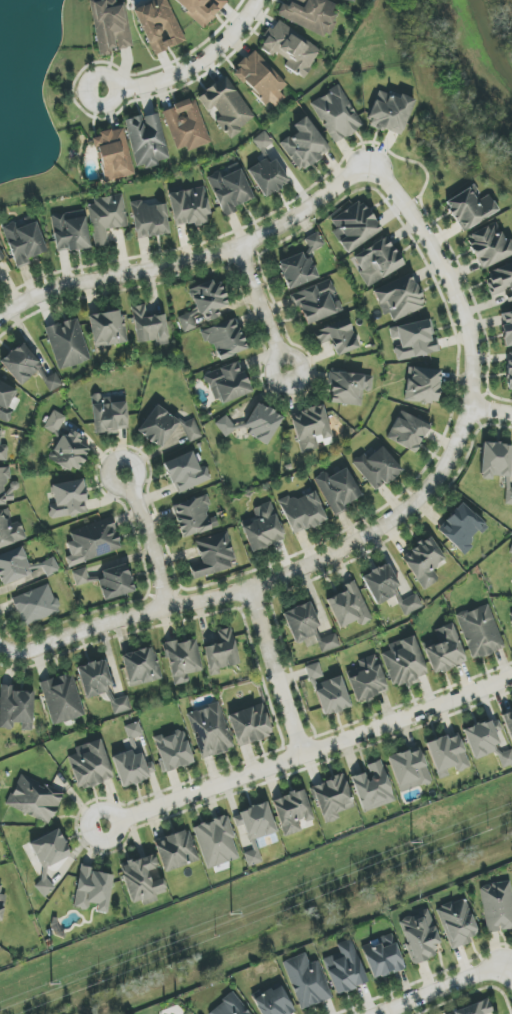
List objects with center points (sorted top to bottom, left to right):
building: (351, 0)
building: (201, 9)
building: (310, 14)
building: (159, 25)
building: (111, 27)
building: (290, 48)
road: (198, 61)
building: (261, 80)
road: (114, 99)
building: (226, 107)
building: (391, 112)
building: (336, 114)
building: (186, 125)
building: (147, 140)
building: (262, 141)
building: (304, 144)
building: (113, 155)
building: (268, 176)
building: (229, 189)
building: (189, 207)
building: (470, 208)
building: (106, 217)
building: (149, 219)
building: (355, 225)
building: (70, 231)
building: (24, 242)
building: (490, 246)
building: (1, 257)
road: (192, 258)
building: (377, 261)
building: (296, 270)
building: (501, 281)
building: (399, 298)
building: (209, 300)
building: (317, 302)
road: (263, 309)
building: (190, 320)
building: (150, 327)
building: (507, 327)
building: (108, 329)
building: (338, 337)
building: (225, 339)
building: (414, 340)
building: (68, 344)
building: (19, 365)
building: (509, 370)
building: (53, 382)
building: (228, 383)
building: (423, 385)
building: (349, 388)
building: (6, 401)
road: (491, 411)
building: (109, 414)
building: (55, 422)
building: (254, 424)
building: (166, 427)
building: (310, 428)
building: (408, 432)
building: (3, 450)
building: (70, 452)
building: (497, 465)
building: (377, 467)
building: (186, 473)
building: (5, 487)
building: (337, 490)
building: (68, 499)
building: (303, 512)
building: (194, 517)
road: (393, 521)
building: (263, 528)
building: (461, 528)
building: (10, 531)
road: (147, 538)
building: (93, 542)
building: (511, 551)
building: (213, 556)
building: (424, 562)
building: (22, 566)
building: (80, 577)
building: (116, 583)
building: (381, 583)
building: (36, 605)
building: (411, 605)
building: (349, 606)
building: (511, 613)
building: (301, 623)
building: (480, 632)
road: (5, 650)
building: (445, 650)
building: (221, 652)
building: (183, 660)
building: (404, 662)
building: (141, 667)
building: (314, 671)
road: (275, 672)
building: (94, 679)
building: (367, 680)
building: (332, 696)
building: (62, 699)
building: (121, 705)
building: (16, 709)
building: (508, 722)
building: (250, 725)
building: (133, 730)
building: (210, 730)
building: (483, 738)
building: (173, 751)
road: (307, 752)
building: (448, 755)
building: (505, 758)
building: (90, 765)
building: (132, 768)
building: (410, 770)
building: (373, 787)
building: (332, 798)
building: (34, 800)
building: (292, 812)
building: (257, 822)
building: (216, 842)
power tower: (411, 846)
building: (176, 851)
building: (252, 857)
building: (142, 878)
building: (45, 887)
building: (94, 890)
building: (2, 903)
building: (497, 906)
power tower: (232, 914)
building: (457, 923)
building: (420, 936)
building: (382, 957)
building: (345, 968)
road: (509, 969)
building: (307, 981)
power tower: (51, 985)
road: (438, 988)
building: (274, 1002)
building: (230, 1006)
building: (475, 1009)

